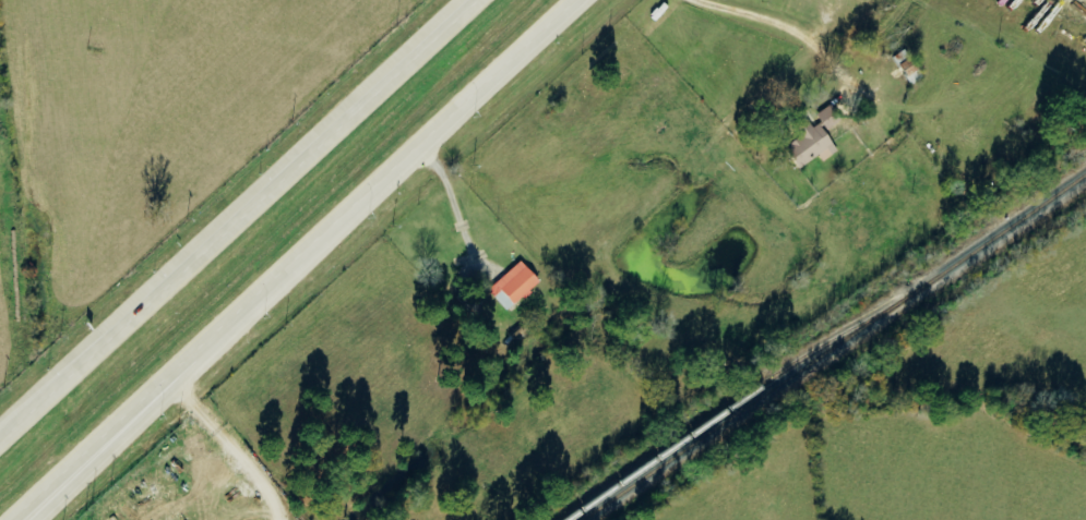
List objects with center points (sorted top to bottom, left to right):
building: (906, 63)
building: (814, 140)
road: (236, 217)
road: (309, 252)
building: (514, 287)
railway: (834, 347)
railway: (727, 410)
road: (26, 511)
road: (28, 511)

